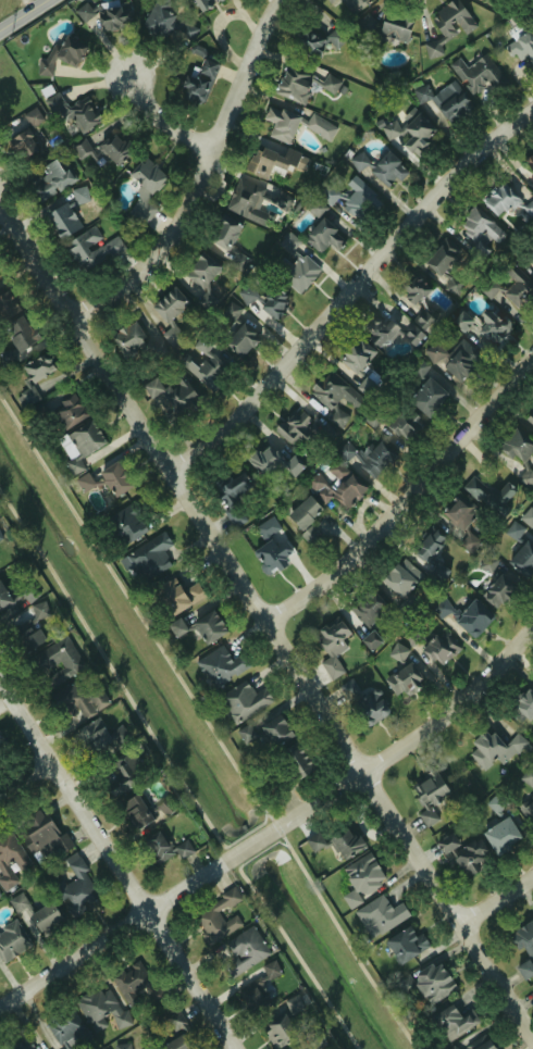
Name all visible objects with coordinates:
building: (349, 2)
building: (203, 3)
building: (322, 3)
road: (24, 15)
building: (110, 17)
building: (449, 18)
building: (169, 23)
building: (365, 23)
building: (394, 26)
building: (315, 40)
building: (521, 49)
building: (61, 55)
building: (478, 74)
building: (199, 83)
building: (294, 84)
building: (330, 84)
building: (445, 100)
building: (75, 110)
road: (164, 111)
building: (294, 124)
building: (410, 132)
building: (22, 145)
building: (114, 149)
building: (84, 150)
building: (273, 162)
building: (529, 162)
building: (379, 166)
road: (207, 176)
building: (54, 177)
building: (145, 190)
building: (532, 191)
building: (350, 198)
building: (499, 199)
building: (247, 201)
building: (315, 209)
building: (528, 209)
building: (62, 221)
building: (479, 225)
building: (320, 234)
building: (224, 240)
building: (91, 249)
building: (478, 251)
building: (532, 263)
building: (294, 265)
building: (446, 265)
building: (201, 271)
building: (510, 286)
road: (352, 290)
building: (409, 292)
building: (265, 301)
building: (169, 304)
building: (7, 305)
building: (231, 311)
building: (421, 321)
building: (482, 326)
building: (20, 333)
building: (377, 333)
building: (172, 334)
building: (411, 336)
building: (127, 337)
building: (240, 340)
building: (433, 351)
building: (355, 355)
building: (7, 357)
building: (461, 361)
building: (202, 362)
building: (418, 369)
building: (35, 376)
building: (365, 386)
building: (172, 396)
building: (333, 397)
building: (426, 397)
building: (69, 411)
building: (530, 417)
building: (405, 424)
building: (295, 425)
building: (532, 436)
building: (79, 444)
building: (345, 451)
building: (518, 454)
building: (375, 459)
building: (270, 462)
building: (114, 478)
building: (336, 486)
building: (487, 494)
building: (233, 497)
road: (410, 497)
building: (458, 512)
building: (303, 513)
building: (528, 516)
building: (126, 523)
building: (512, 530)
building: (310, 535)
building: (0, 536)
building: (468, 541)
building: (427, 546)
building: (271, 547)
building: (146, 558)
building: (522, 559)
building: (486, 563)
building: (400, 577)
building: (498, 588)
building: (175, 596)
building: (4, 598)
road: (266, 608)
building: (367, 608)
building: (39, 610)
building: (472, 617)
building: (208, 626)
building: (176, 627)
building: (25, 634)
building: (371, 640)
building: (331, 645)
building: (439, 648)
building: (397, 652)
building: (57, 661)
building: (221, 665)
building: (404, 679)
building: (79, 700)
building: (243, 701)
building: (523, 705)
building: (370, 708)
building: (274, 730)
building: (246, 734)
building: (100, 737)
building: (1, 738)
building: (486, 747)
building: (294, 761)
building: (528, 776)
building: (117, 780)
road: (25, 783)
building: (429, 795)
building: (165, 807)
building: (528, 808)
building: (136, 812)
road: (275, 834)
building: (500, 835)
building: (41, 836)
building: (314, 841)
building: (344, 844)
building: (158, 848)
building: (182, 848)
building: (462, 853)
building: (10, 860)
road: (115, 867)
building: (361, 878)
building: (77, 885)
road: (500, 901)
building: (18, 903)
building: (380, 915)
building: (45, 919)
building: (215, 923)
building: (11, 940)
building: (406, 944)
building: (524, 948)
building: (244, 950)
building: (129, 979)
building: (426, 983)
building: (252, 1000)
building: (293, 1004)
building: (101, 1008)
building: (454, 1022)
building: (65, 1027)
building: (280, 1029)
building: (178, 1034)
building: (314, 1042)
building: (474, 1042)
building: (21, 1046)
building: (121, 1046)

